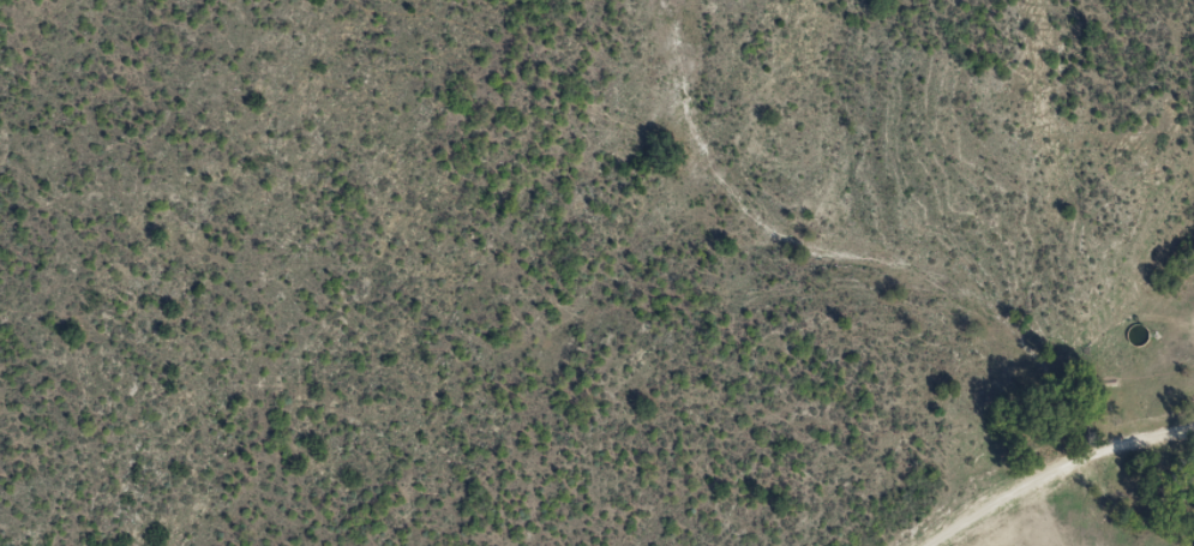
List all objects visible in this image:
road: (1064, 474)

